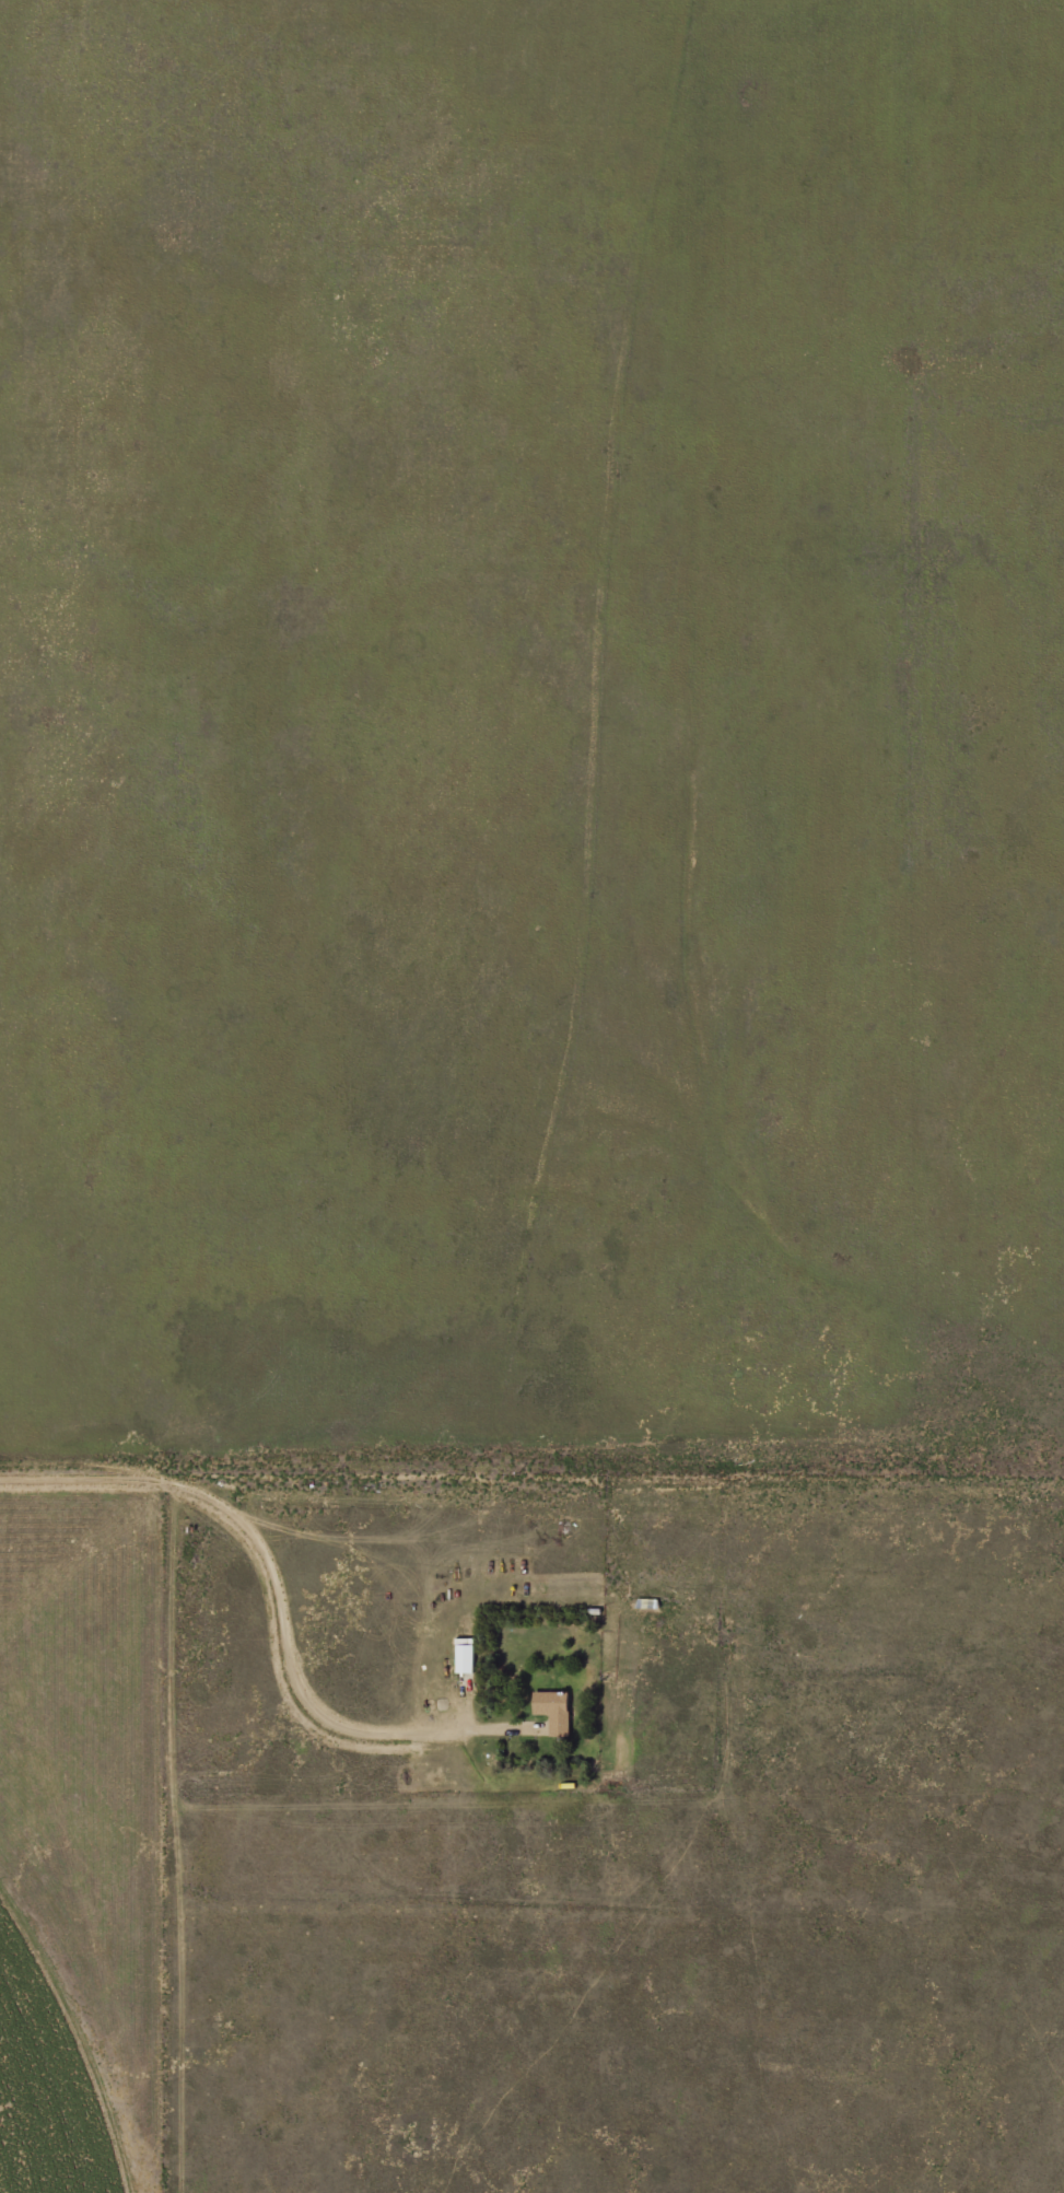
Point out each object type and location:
road: (417, 1885)

